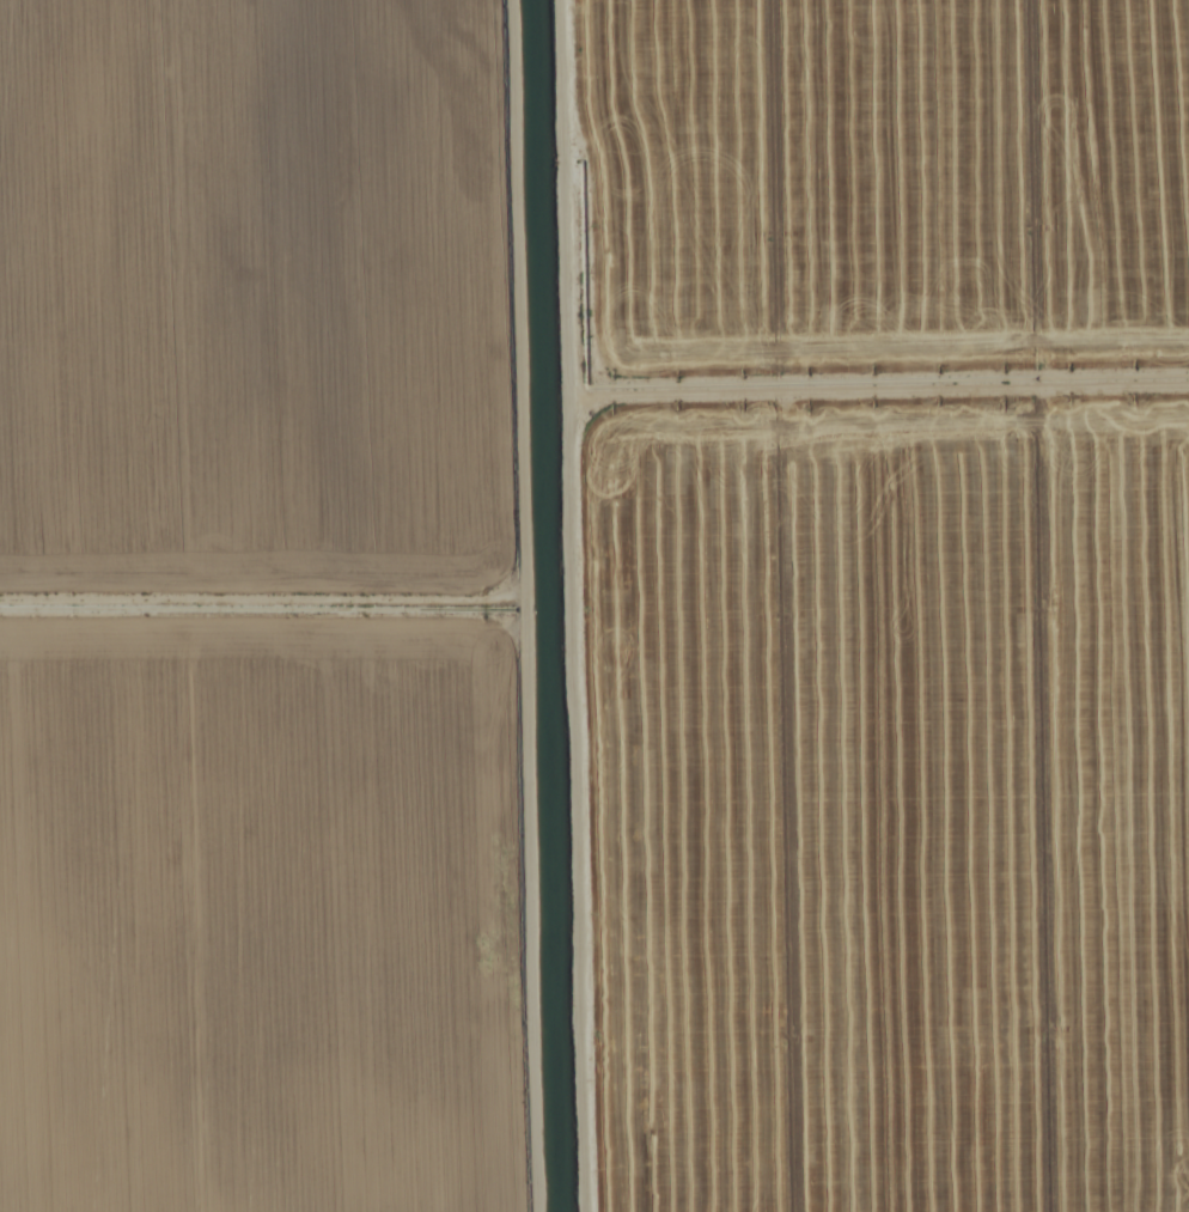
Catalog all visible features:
crop: (594, 605)

